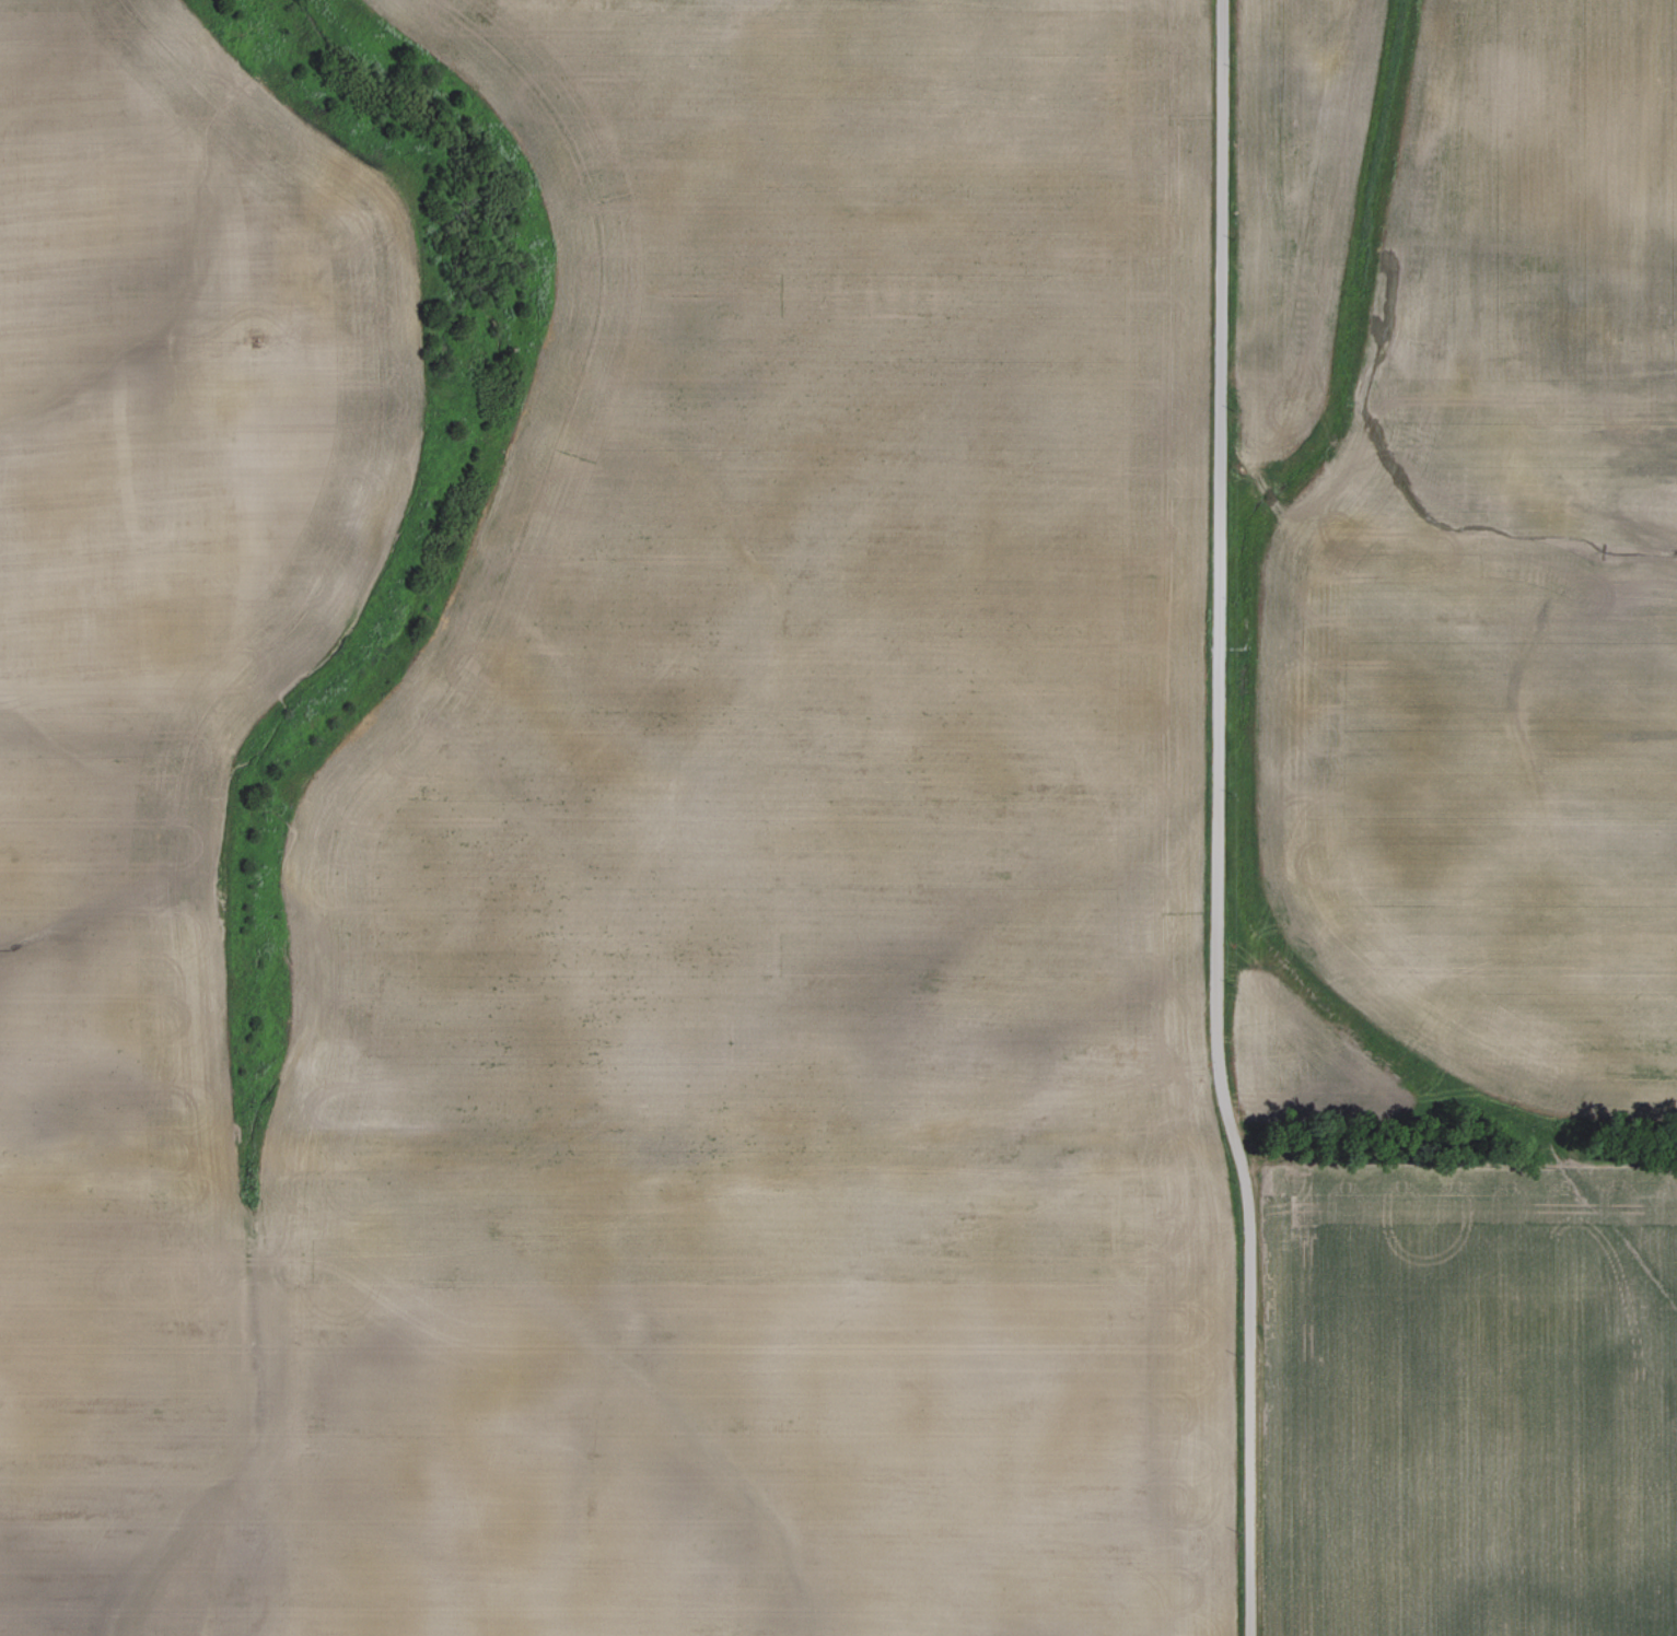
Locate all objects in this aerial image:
road: (1216, 588)
road: (1246, 1404)

